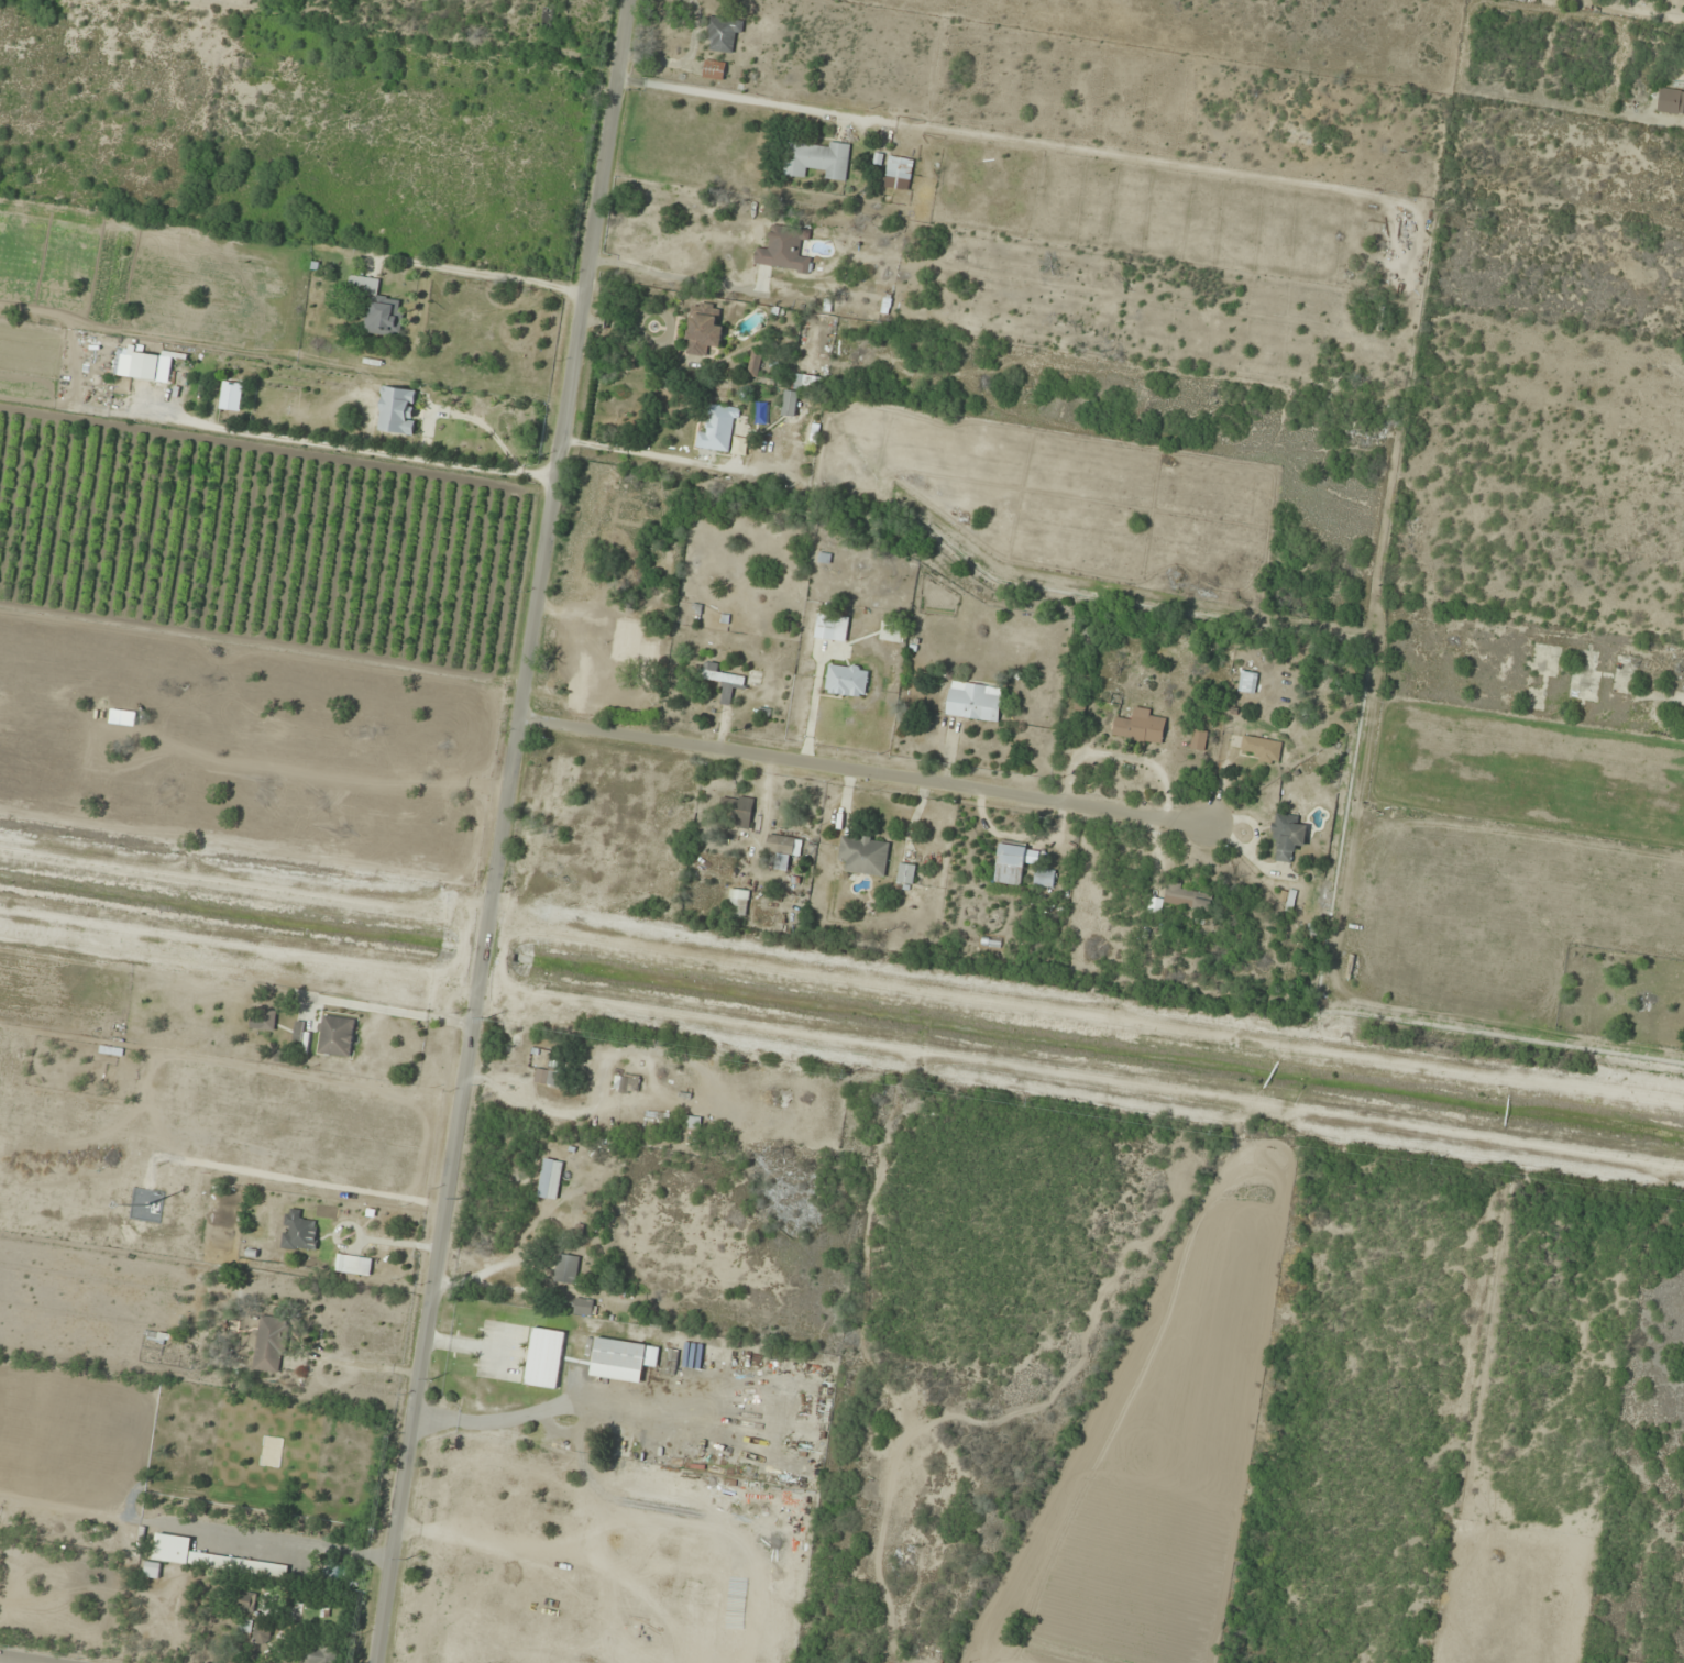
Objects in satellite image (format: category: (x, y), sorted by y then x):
building: (724, 35)
building: (714, 70)
building: (1671, 103)
building: (819, 161)
building: (899, 174)
building: (784, 251)
building: (376, 307)
building: (703, 332)
building: (755, 363)
building: (145, 367)
building: (790, 404)
building: (397, 410)
building: (718, 430)
building: (634, 618)
building: (832, 628)
building: (588, 659)
building: (720, 680)
building: (847, 681)
building: (973, 702)
building: (1140, 727)
building: (1199, 740)
building: (1261, 748)
road: (870, 774)
building: (737, 812)
road: (515, 831)
building: (1287, 836)
building: (782, 850)
building: (865, 855)
building: (1014, 863)
building: (906, 874)
building: (1044, 878)
building: (738, 904)
building: (268, 1021)
building: (337, 1036)
building: (546, 1077)
building: (627, 1084)
building: (693, 1123)
building: (573, 1152)
building: (561, 1221)
building: (298, 1232)
building: (348, 1265)
building: (566, 1269)
building: (584, 1307)
building: (269, 1345)
building: (624, 1355)
building: (544, 1358)
building: (671, 1362)
building: (211, 1559)
building: (152, 1570)
building: (247, 1601)
building: (262, 1633)
building: (321, 1654)
road: (13, 1661)

